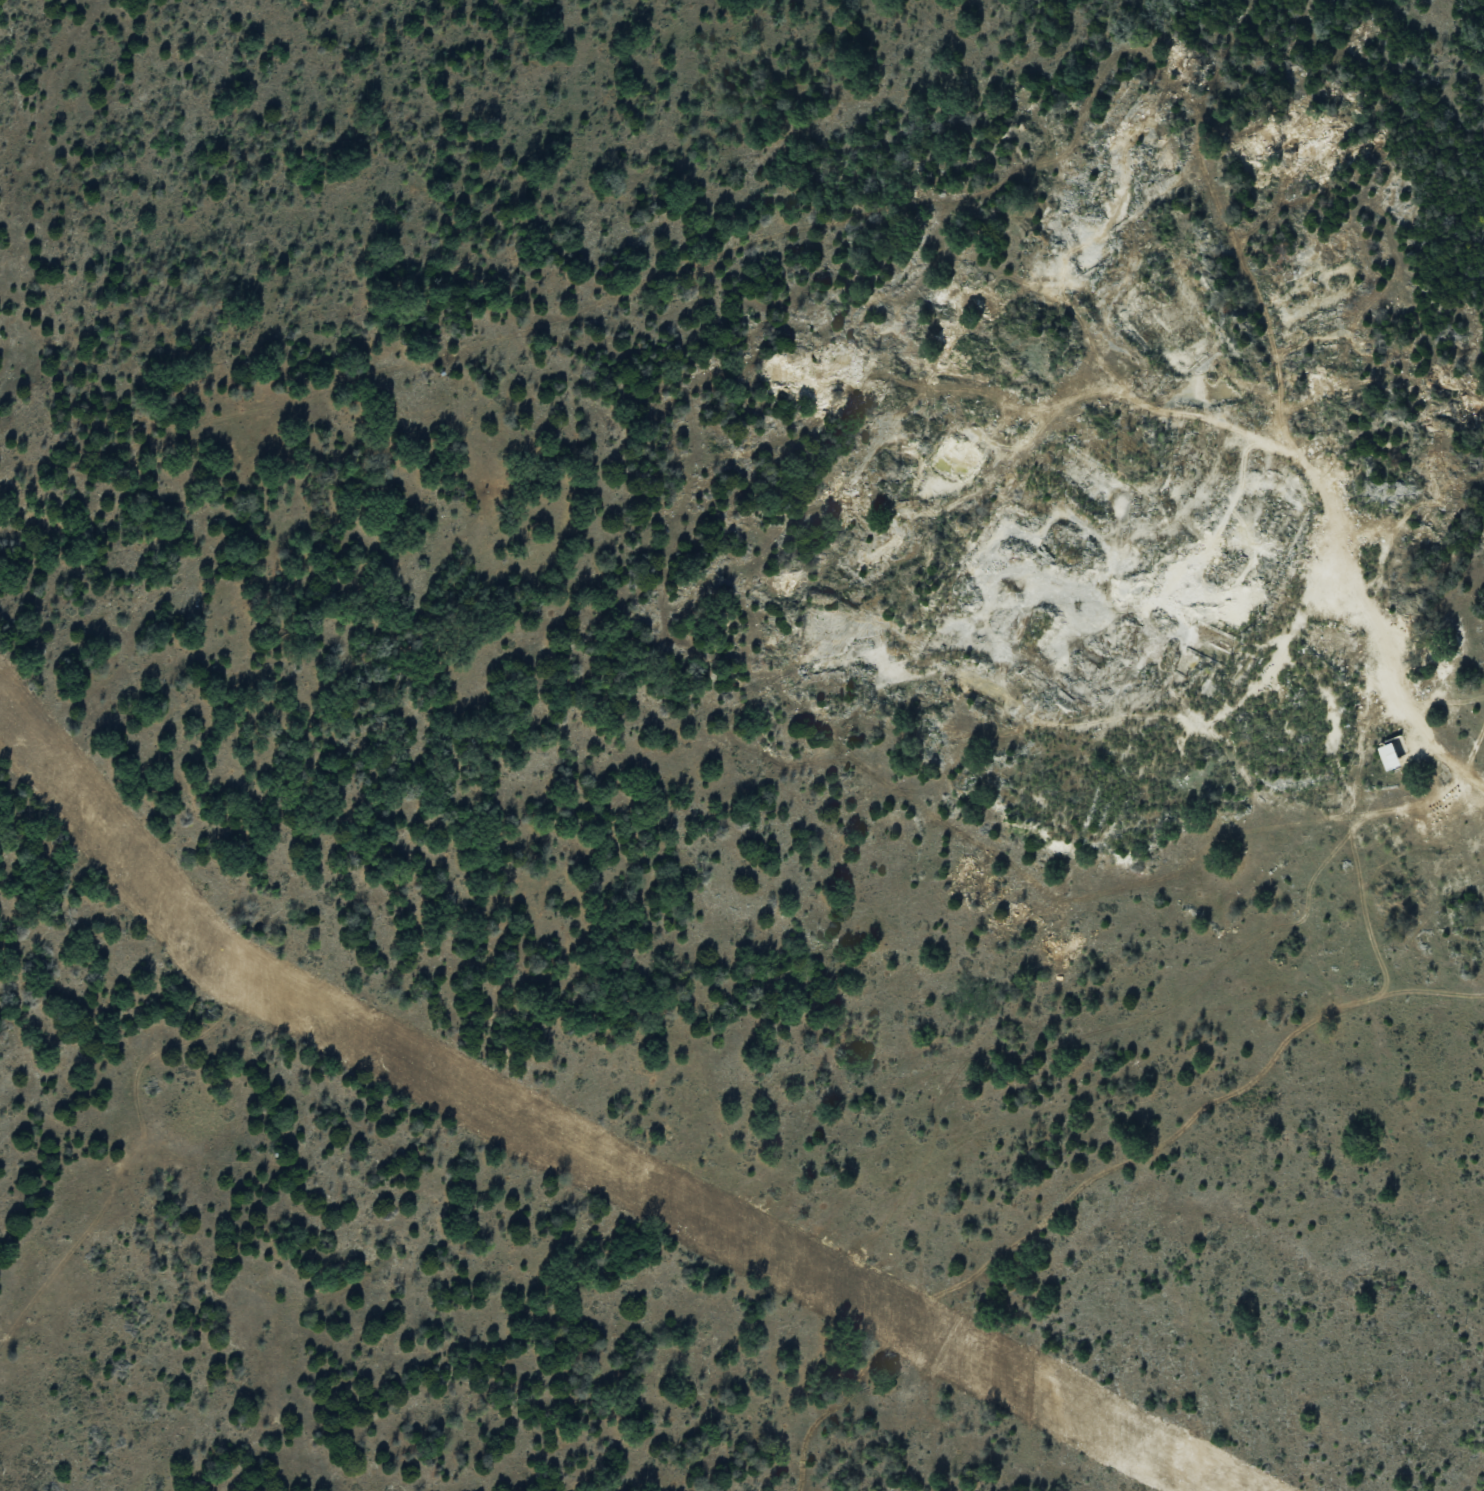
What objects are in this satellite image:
building: (1392, 756)
road: (1450, 762)

